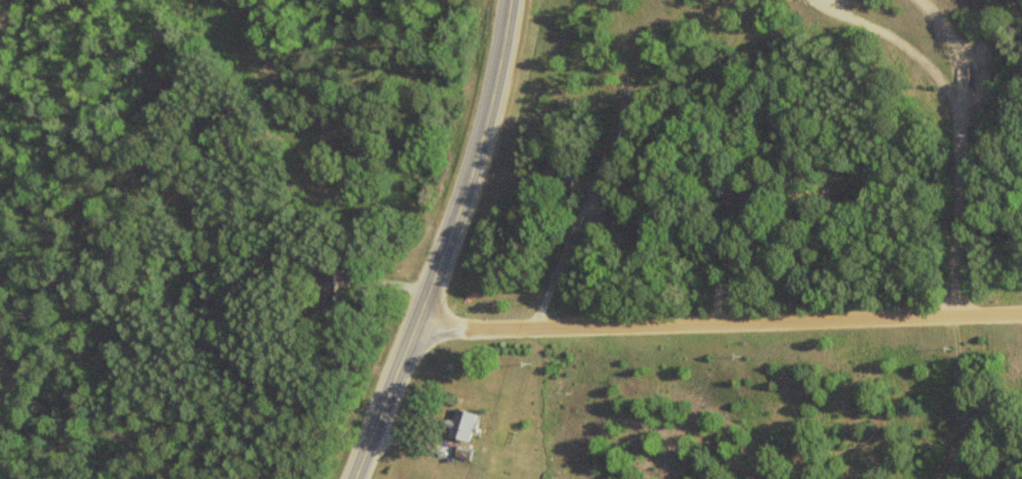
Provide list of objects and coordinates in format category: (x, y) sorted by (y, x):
road: (2, 11)
petroleum well: (971, 76)
road: (952, 145)
road: (443, 245)
road: (569, 249)
road: (724, 265)
road: (724, 317)
road: (961, 397)
building: (458, 426)

